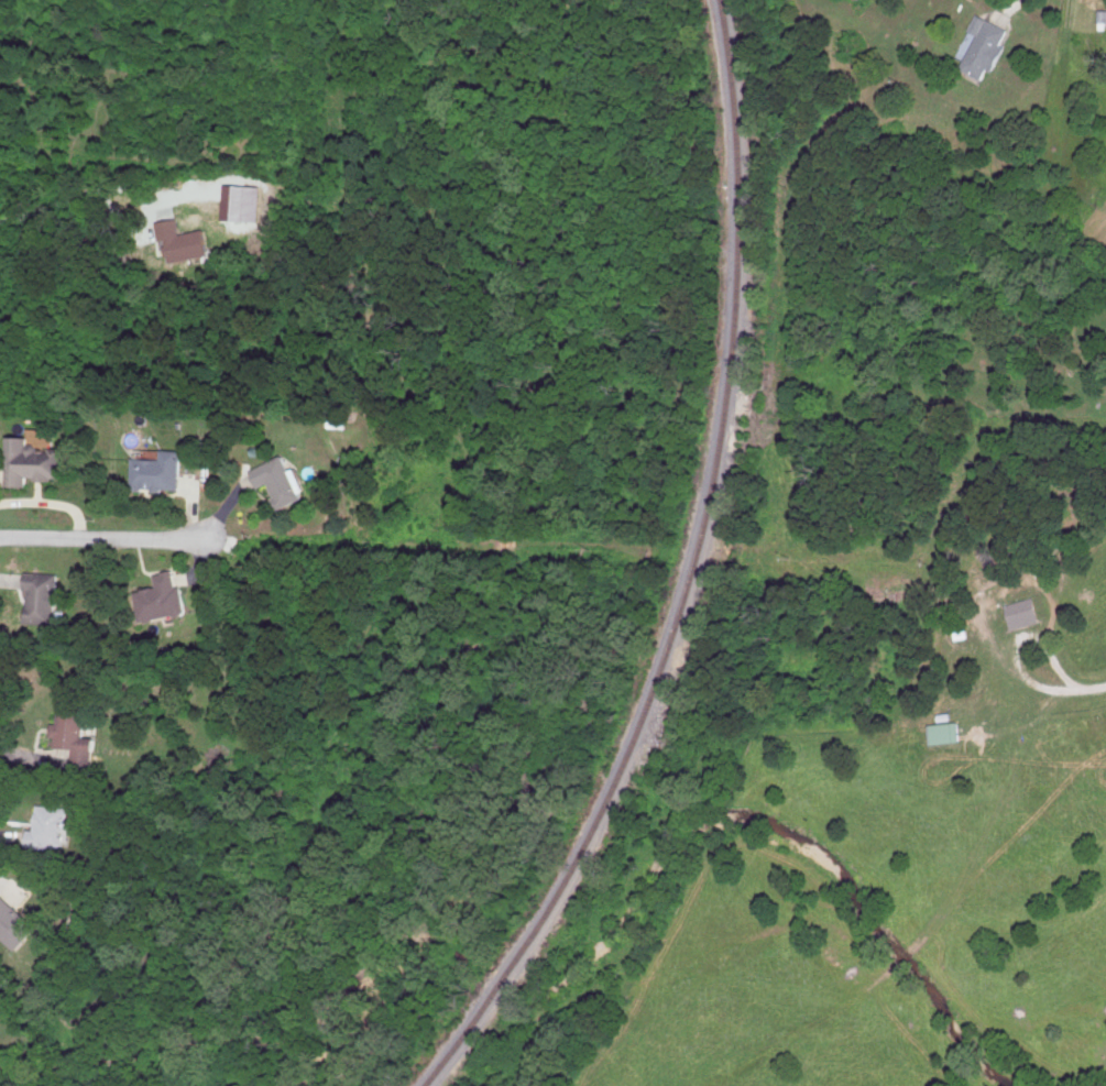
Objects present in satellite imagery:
road: (1015, 9)
building: (1102, 14)
building: (987, 45)
building: (243, 201)
road: (85, 206)
building: (185, 240)
building: (33, 460)
building: (158, 470)
building: (282, 479)
road: (103, 538)
railway: (692, 574)
building: (43, 596)
building: (162, 596)
building: (1023, 612)
road: (1040, 643)
road: (1088, 691)
building: (946, 732)
building: (76, 736)
building: (51, 825)
building: (17, 922)

